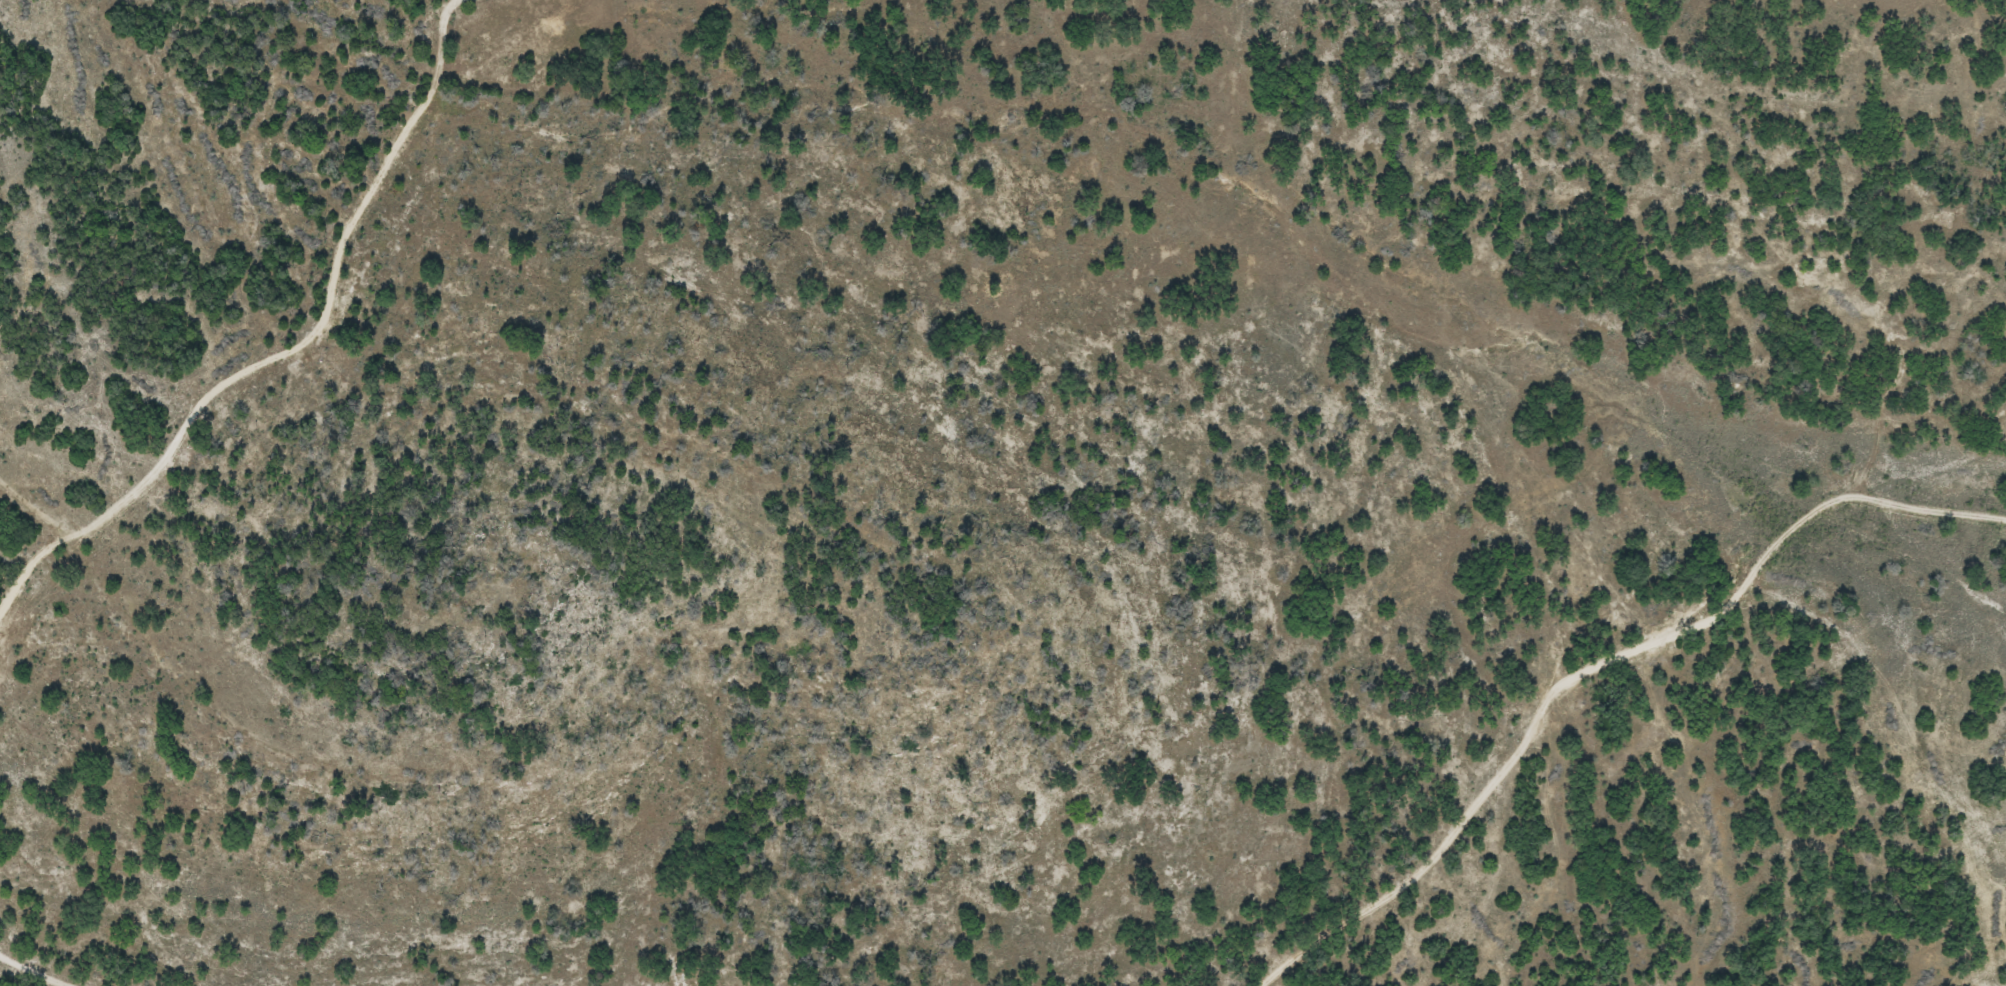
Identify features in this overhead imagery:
road: (289, 350)
road: (1667, 638)
road: (1322, 943)
road: (42, 965)

